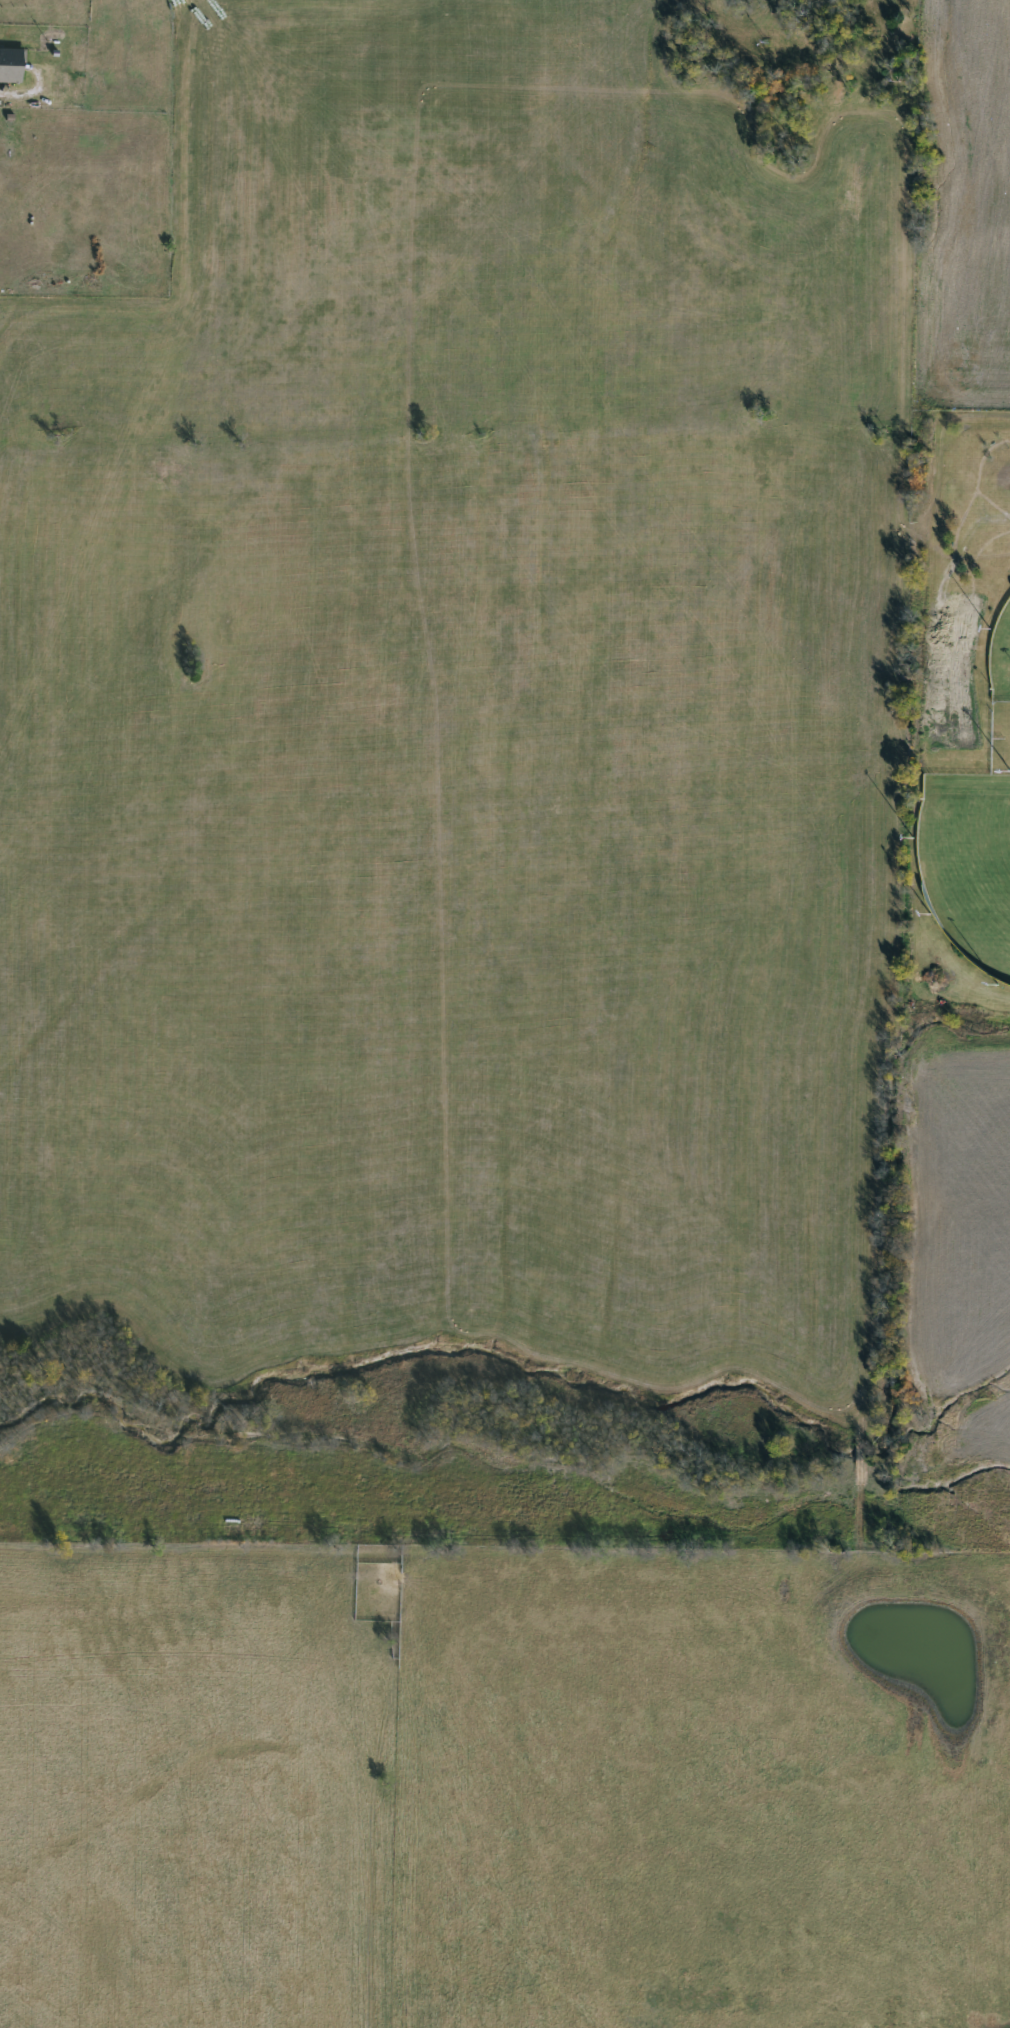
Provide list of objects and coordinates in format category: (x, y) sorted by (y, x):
building: (9, 66)
park: (1000, 656)
park: (962, 721)
park: (969, 863)

